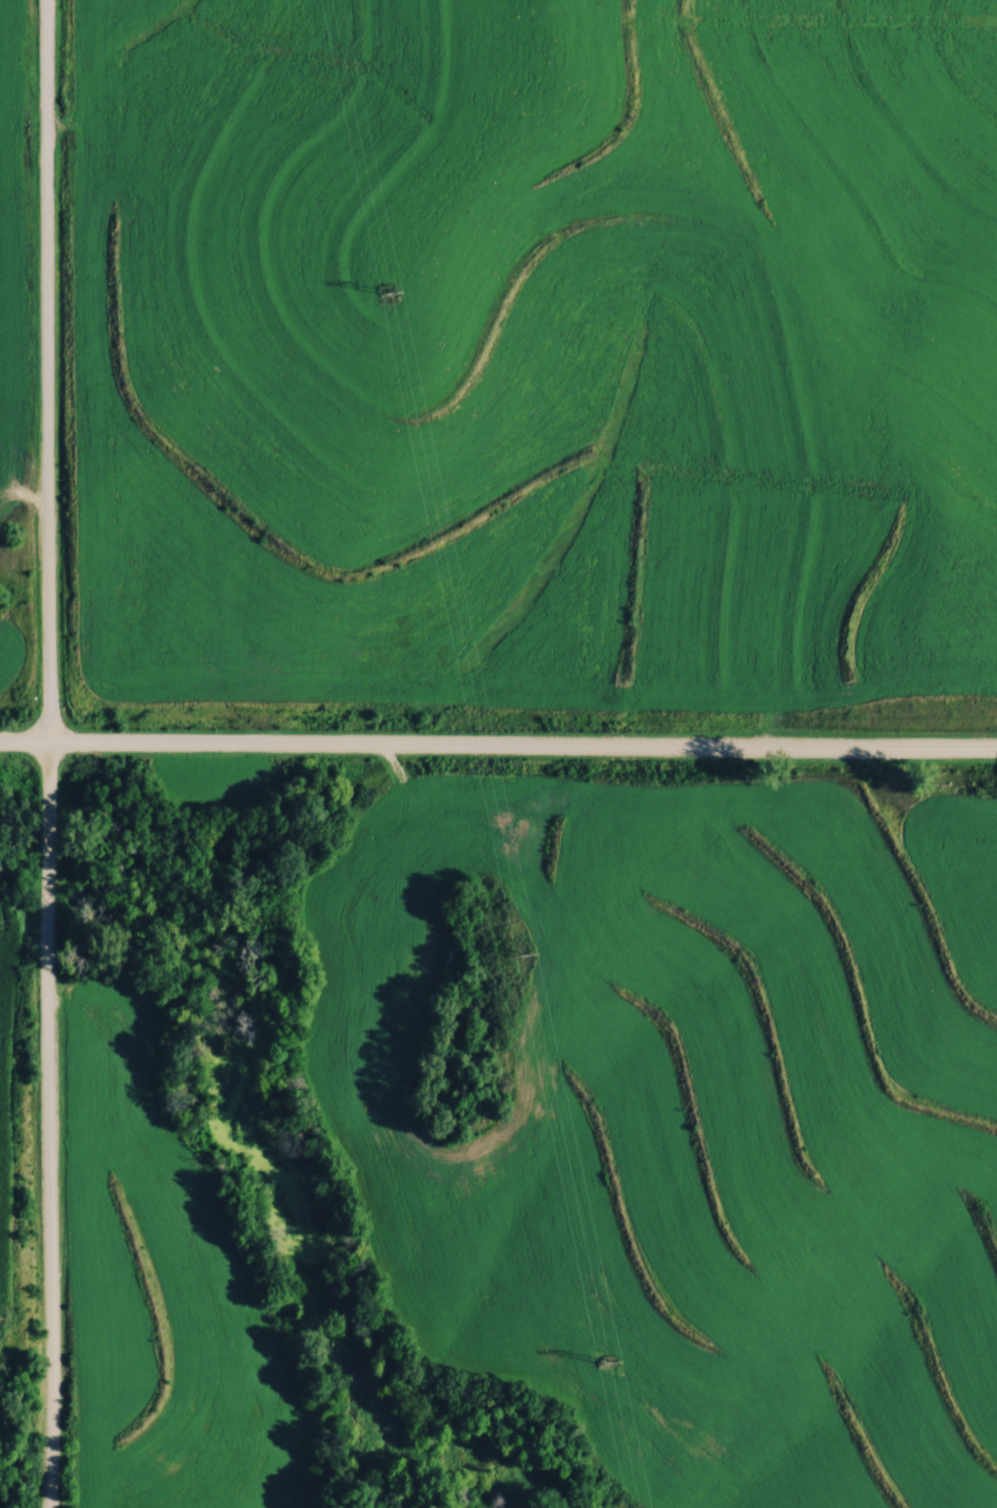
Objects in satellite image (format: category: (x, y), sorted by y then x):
power tower: (397, 282)
road: (498, 741)
road: (50, 754)
power tower: (528, 954)
power tower: (614, 1362)

